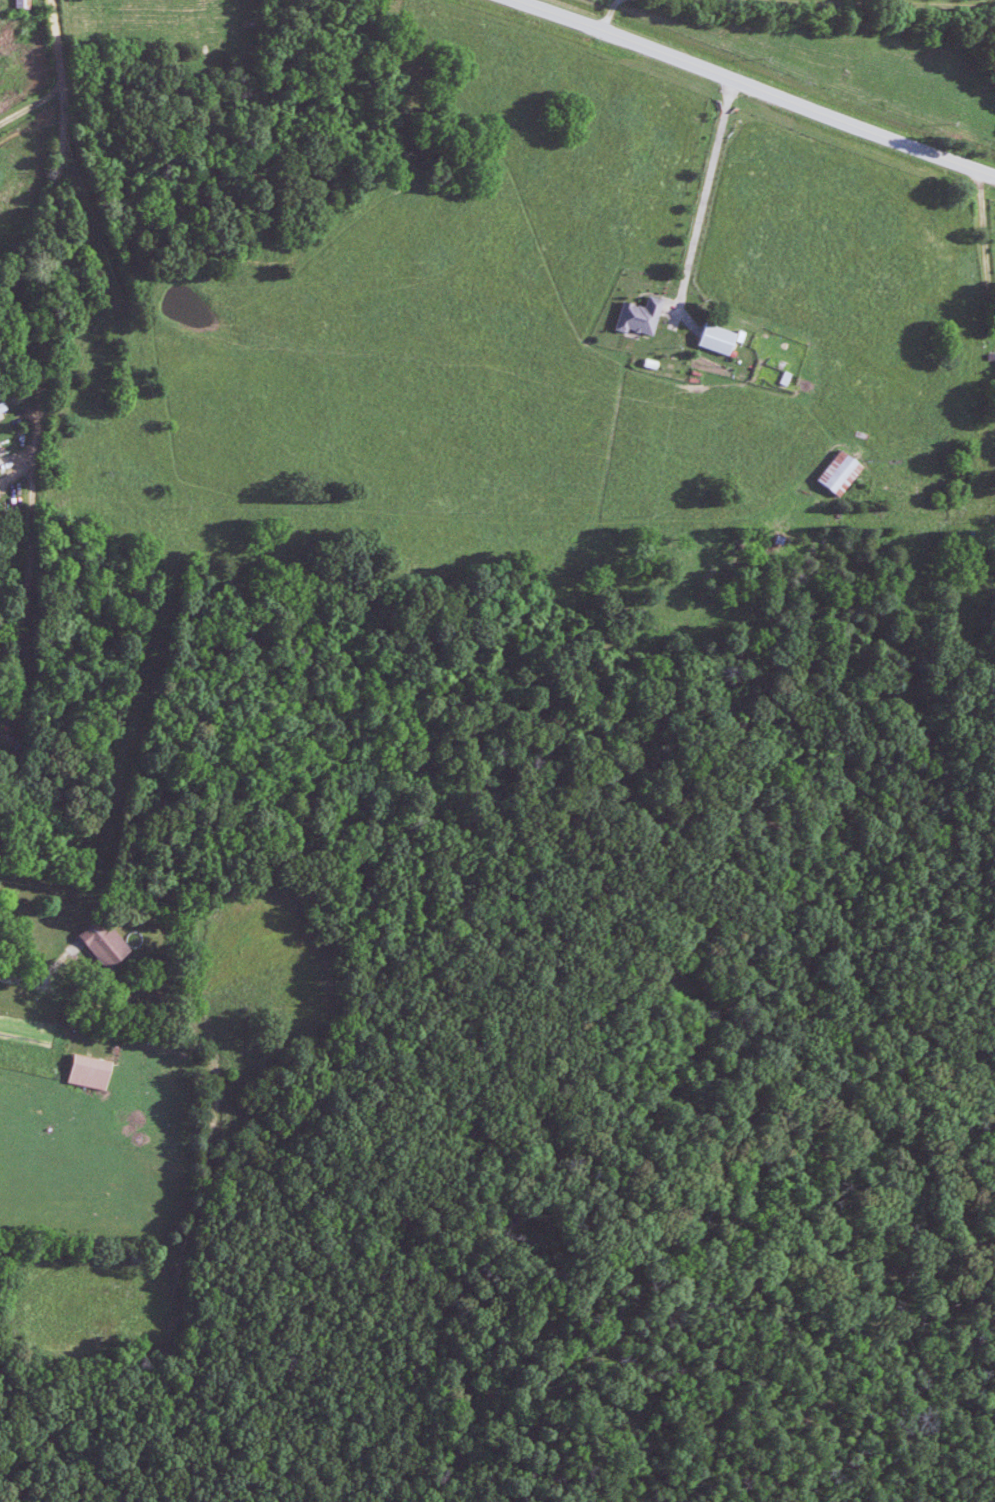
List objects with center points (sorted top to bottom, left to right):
building: (20, 4)
road: (686, 29)
road: (757, 86)
road: (29, 105)
road: (698, 193)
road: (979, 249)
building: (630, 314)
road: (49, 320)
building: (707, 337)
building: (2, 408)
building: (831, 472)
building: (94, 944)
building: (80, 1071)

